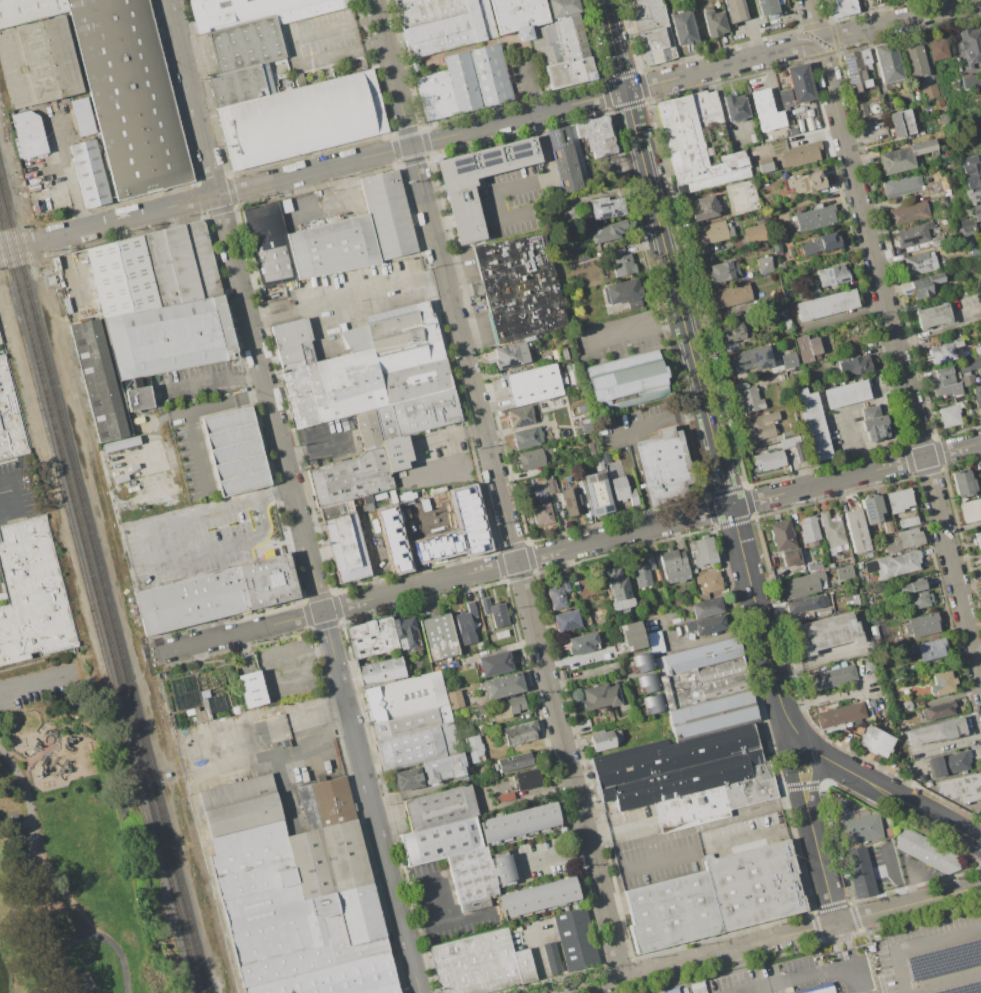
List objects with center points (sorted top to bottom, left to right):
building: (867, 0)
building: (766, 7)
building: (841, 7)
building: (28, 10)
building: (734, 10)
building: (255, 11)
building: (518, 16)
road: (813, 18)
road: (901, 19)
building: (712, 21)
building: (443, 23)
building: (683, 27)
building: (650, 30)
road: (819, 40)
building: (246, 44)
building: (970, 44)
building: (563, 45)
building: (937, 48)
road: (295, 49)
building: (887, 61)
building: (915, 61)
building: (37, 62)
rooftop solar panel: (848, 67)
building: (856, 69)
building: (491, 76)
building: (970, 80)
building: (800, 82)
building: (462, 83)
building: (237, 85)
building: (929, 91)
building: (129, 94)
building: (785, 95)
building: (435, 97)
building: (734, 107)
building: (867, 108)
building: (765, 110)
building: (81, 116)
building: (301, 119)
building: (900, 122)
building: (792, 130)
building: (30, 133)
building: (595, 135)
rooftop solar panel: (553, 136)
road: (429, 141)
building: (698, 142)
rooftop solar panel: (519, 148)
rooftop solar panel: (195, 149)
building: (799, 154)
building: (902, 156)
rooftop solar panel: (487, 157)
rooftop solar panel: (519, 157)
building: (563, 159)
rooftop solar panel: (489, 162)
rooftop solar panel: (460, 163)
building: (765, 166)
building: (92, 170)
building: (971, 171)
rooftop solar panel: (462, 172)
building: (805, 182)
road: (527, 184)
building: (902, 185)
road: (75, 189)
building: (973, 196)
building: (740, 197)
road: (337, 200)
building: (702, 207)
building: (606, 208)
building: (976, 211)
building: (464, 212)
building: (908, 213)
building: (389, 215)
building: (815, 218)
building: (967, 224)
building: (607, 231)
building: (713, 232)
building: (753, 232)
building: (917, 233)
rooftop solar panel: (912, 241)
building: (268, 243)
building: (820, 243)
road: (21, 244)
building: (775, 244)
building: (760, 246)
building: (333, 247)
road: (872, 250)
railway: (26, 255)
building: (203, 259)
building: (620, 262)
building: (182, 263)
building: (918, 263)
building: (763, 265)
building: (781, 266)
building: (161, 267)
building: (722, 271)
rooftop solar panel: (827, 274)
building: (831, 274)
building: (123, 276)
rooftop solar panel: (843, 282)
rooftop solar panel: (829, 283)
building: (923, 284)
building: (519, 287)
road: (344, 290)
building: (811, 291)
road: (377, 293)
building: (622, 293)
building: (730, 295)
building: (826, 304)
road: (339, 307)
building: (778, 310)
building: (932, 315)
road: (317, 323)
building: (429, 329)
road: (634, 329)
building: (736, 332)
building: (170, 337)
building: (1, 338)
building: (396, 338)
building: (294, 343)
building: (731, 347)
building: (807, 347)
building: (976, 350)
building: (945, 352)
rooftop solar panel: (952, 353)
building: (509, 355)
building: (749, 358)
building: (788, 360)
rooftop solar panel: (944, 360)
building: (970, 364)
building: (854, 365)
road: (261, 366)
road: (697, 375)
building: (105, 378)
building: (626, 379)
building: (966, 379)
road: (213, 380)
building: (944, 382)
building: (533, 385)
building: (358, 386)
building: (846, 393)
building: (138, 398)
building: (749, 399)
building: (977, 399)
road: (187, 411)
building: (950, 411)
building: (418, 414)
building: (523, 414)
building: (11, 417)
rooftop solar panel: (538, 417)
road: (657, 420)
road: (482, 423)
building: (873, 423)
building: (347, 424)
rooftop solar panel: (522, 424)
building: (585, 425)
building: (761, 425)
building: (815, 426)
building: (789, 433)
road: (452, 435)
building: (526, 437)
road: (317, 442)
road: (851, 443)
building: (591, 448)
building: (235, 450)
building: (398, 452)
building: (778, 454)
building: (604, 457)
building: (531, 458)
building: (666, 466)
building: (351, 477)
building: (962, 483)
building: (550, 486)
building: (622, 490)
road: (281, 491)
building: (593, 494)
road: (8, 495)
building: (898, 499)
building: (571, 501)
rooftop solar panel: (868, 507)
rooftop solar panel: (608, 508)
building: (870, 509)
building: (970, 509)
rooftop solar panel: (598, 512)
building: (541, 513)
building: (907, 522)
building: (886, 525)
road: (651, 526)
building: (808, 529)
building: (855, 530)
building: (385, 532)
building: (832, 533)
parking lot: (202, 534)
building: (782, 535)
building: (903, 539)
building: (977, 540)
building: (448, 542)
building: (346, 549)
building: (703, 551)
road: (149, 552)
building: (790, 557)
building: (979, 559)
building: (892, 564)
building: (673, 565)
building: (812, 565)
road: (953, 566)
building: (643, 570)
building: (843, 572)
building: (268, 580)
building: (707, 584)
building: (802, 584)
building: (912, 586)
railway: (103, 588)
building: (618, 590)
building: (558, 593)
building: (32, 594)
building: (918, 599)
building: (191, 600)
building: (806, 604)
railway: (98, 605)
building: (706, 607)
building: (494, 611)
building: (565, 620)
railway: (94, 621)
rooftop solar panel: (568, 623)
building: (465, 624)
building: (921, 624)
building: (705, 625)
building: (827, 631)
road: (240, 632)
building: (405, 633)
building: (501, 634)
building: (632, 635)
building: (438, 636)
building: (371, 637)
road: (709, 639)
building: (655, 641)
building: (580, 642)
building: (929, 648)
building: (702, 655)
building: (494, 663)
building: (640, 663)
road: (267, 666)
building: (379, 668)
building: (831, 675)
building: (645, 683)
building: (705, 683)
building: (941, 683)
road: (38, 684)
building: (502, 685)
parking lot: (39, 688)
building: (253, 689)
building: (404, 696)
building: (599, 696)
building: (454, 699)
road: (828, 701)
building: (650, 704)
building: (507, 707)
building: (937, 710)
building: (840, 714)
building: (713, 715)
building: (411, 721)
building: (936, 731)
building: (519, 732)
building: (604, 739)
building: (875, 740)
rooftop solar panel: (734, 744)
building: (410, 747)
building: (473, 748)
road: (814, 751)
rooftop solar panel: (753, 754)
building: (513, 761)
building: (947, 763)
building: (443, 767)
building: (675, 767)
rooftop solar panel: (735, 767)
building: (406, 779)
building: (527, 779)
road: (796, 782)
building: (927, 784)
road: (813, 786)
road: (876, 786)
building: (961, 787)
building: (717, 800)
building: (326, 803)
building: (239, 805)
building: (439, 808)
road: (724, 819)
building: (520, 821)
road: (955, 828)
building: (860, 829)
road: (647, 833)
building: (442, 840)
park: (68, 848)
building: (925, 851)
road: (555, 854)
building: (329, 858)
road: (387, 863)
road: (640, 866)
building: (504, 869)
road: (822, 870)
building: (859, 872)
building: (471, 875)
road: (434, 880)
road: (917, 884)
building: (716, 897)
building: (538, 898)
road: (925, 899)
road: (70, 900)
road: (418, 901)
building: (273, 907)
road: (13, 911)
road: (605, 912)
road: (854, 918)
building: (361, 920)
road: (446, 921)
building: (576, 939)
road: (918, 944)
building: (550, 957)
road: (699, 958)
road: (845, 959)
rooftop solar panel: (947, 959)
building: (480, 964)
building: (333, 977)
road: (812, 977)
road: (942, 980)
building: (382, 989)
building: (818, 989)
rooftop solar panel: (966, 991)
road: (904, 992)

